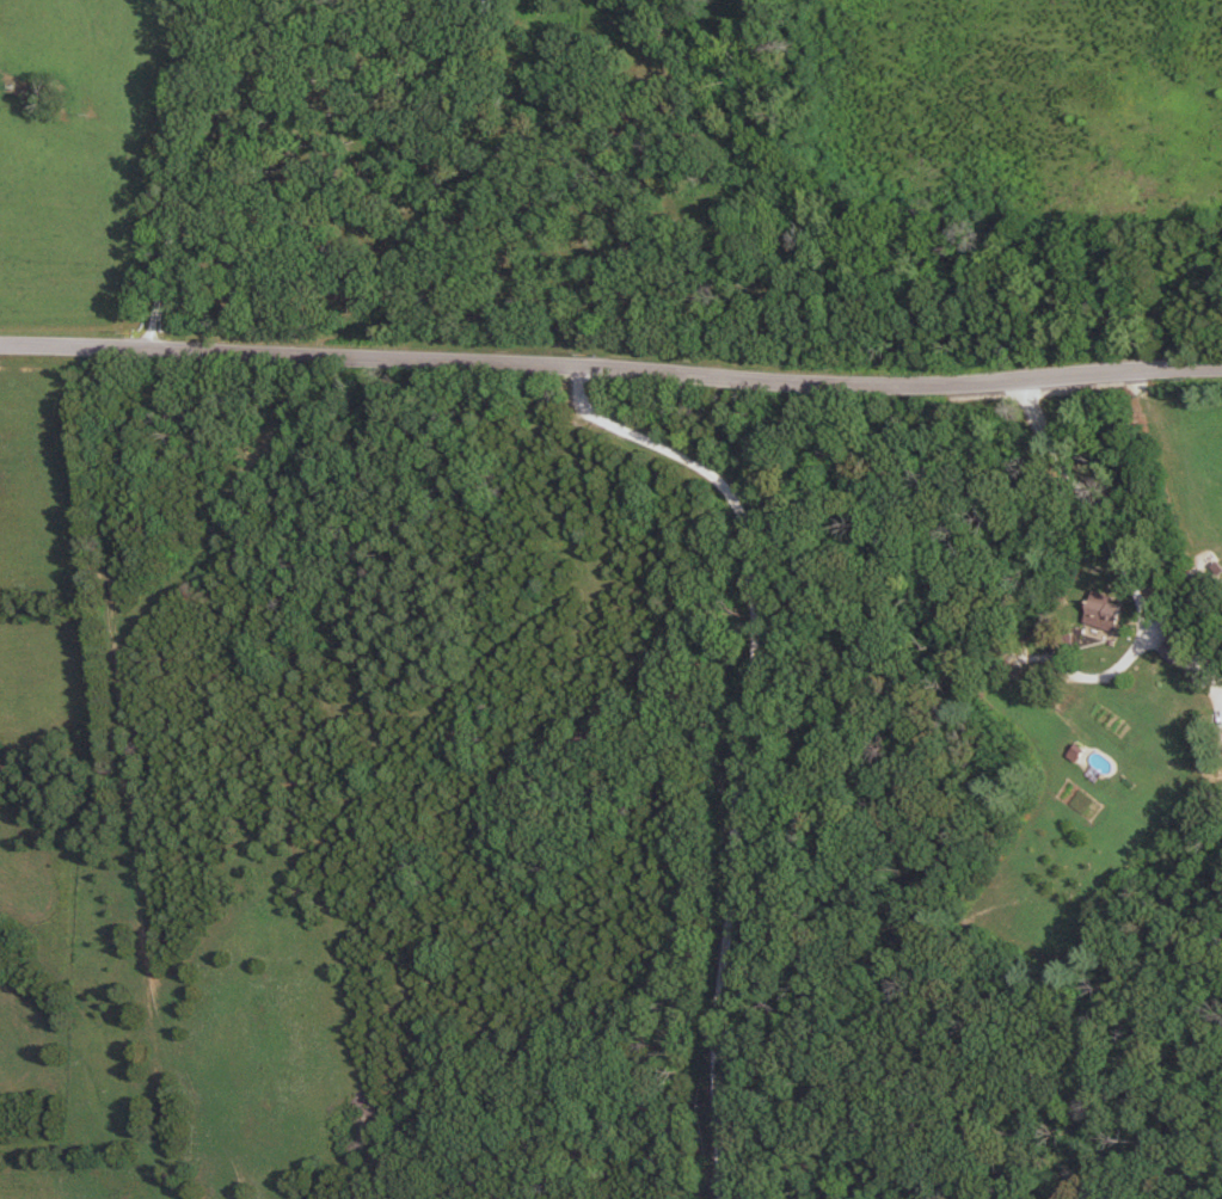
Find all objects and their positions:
road: (177, 172)
road: (610, 364)
road: (1106, 536)
building: (1100, 614)
building: (1169, 647)
road: (1197, 651)
road: (751, 734)

